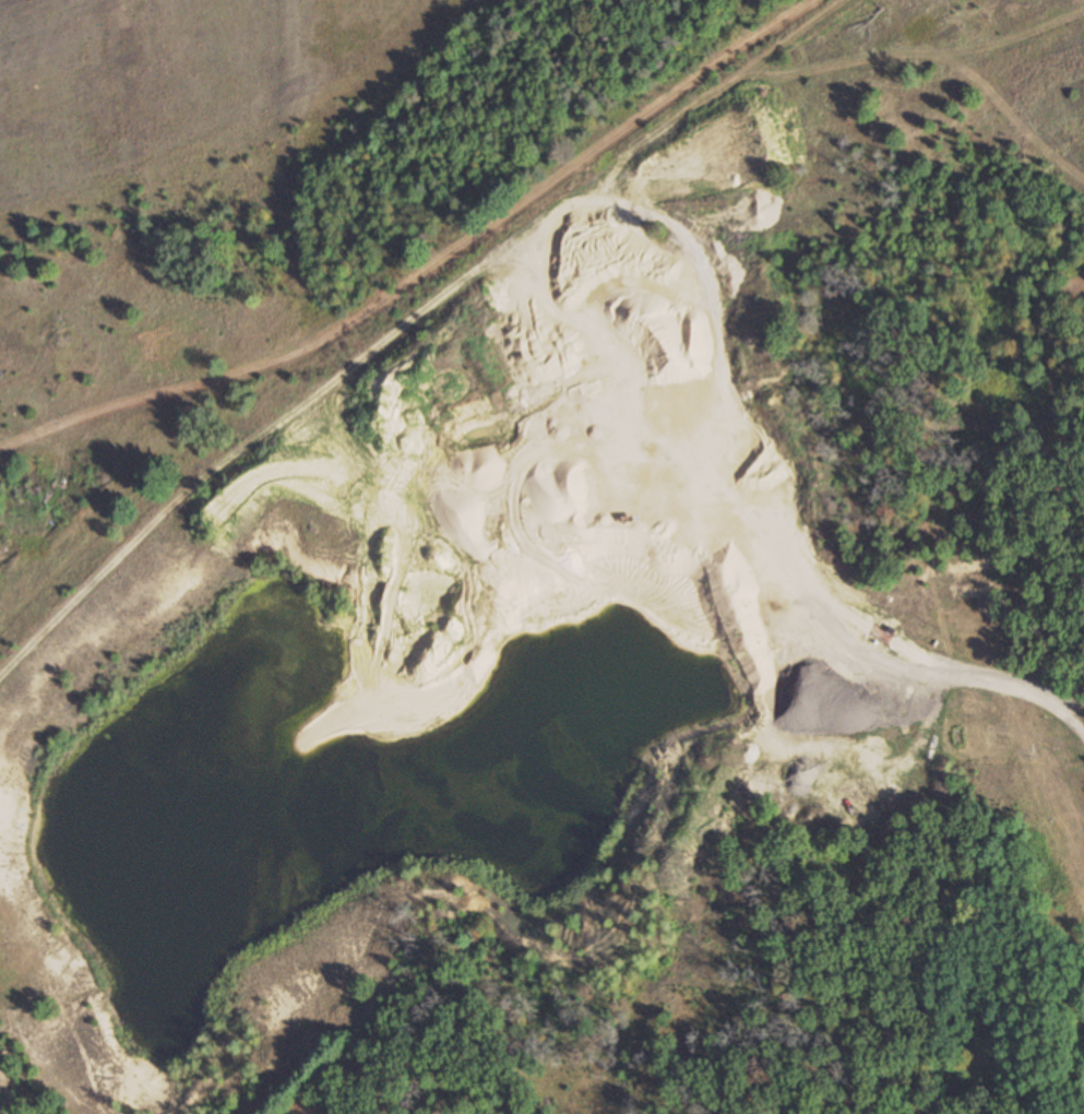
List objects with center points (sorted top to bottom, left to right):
airport: (150, 61)

